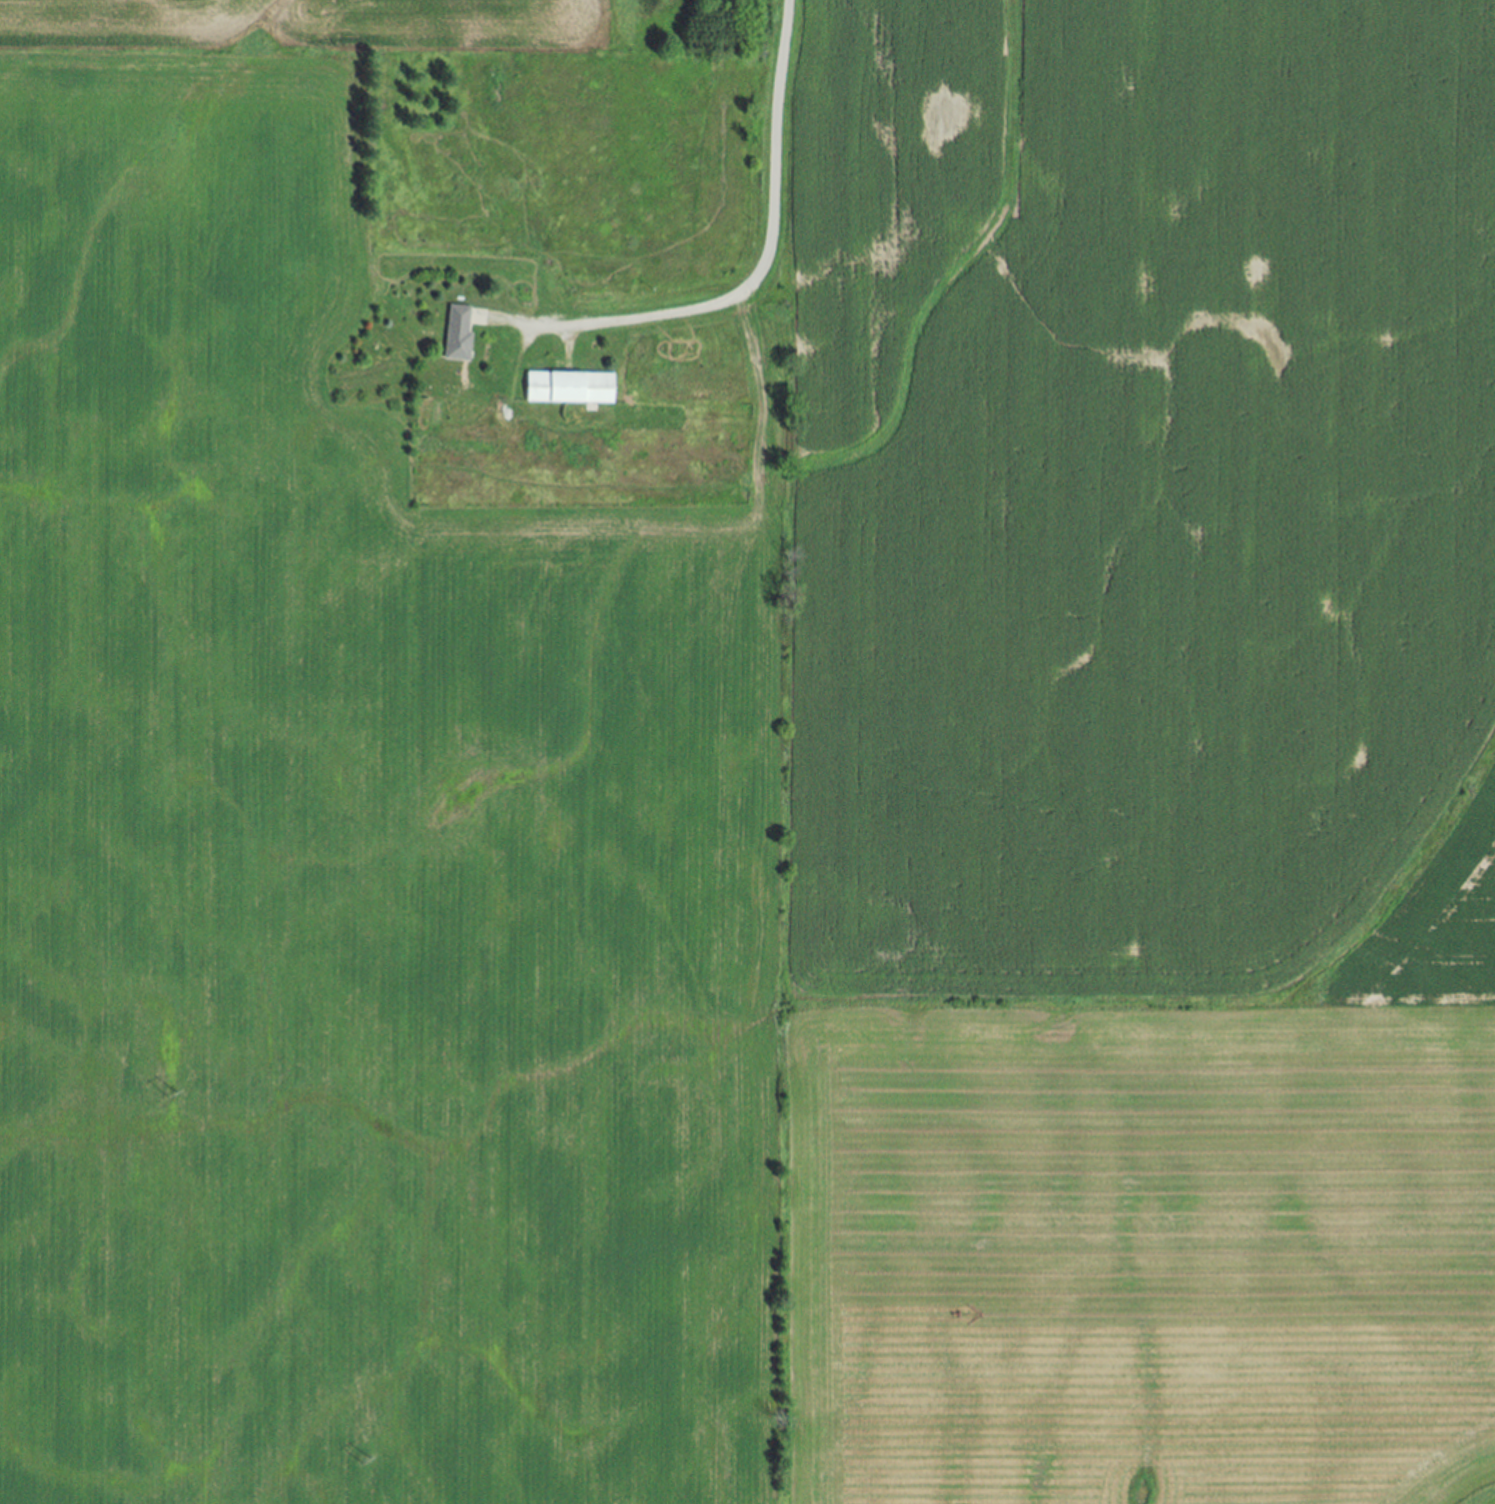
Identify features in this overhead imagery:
road: (788, 0)
road: (768, 257)
building: (461, 333)
building: (572, 388)
power tower: (171, 1095)
power tower: (369, 1462)

